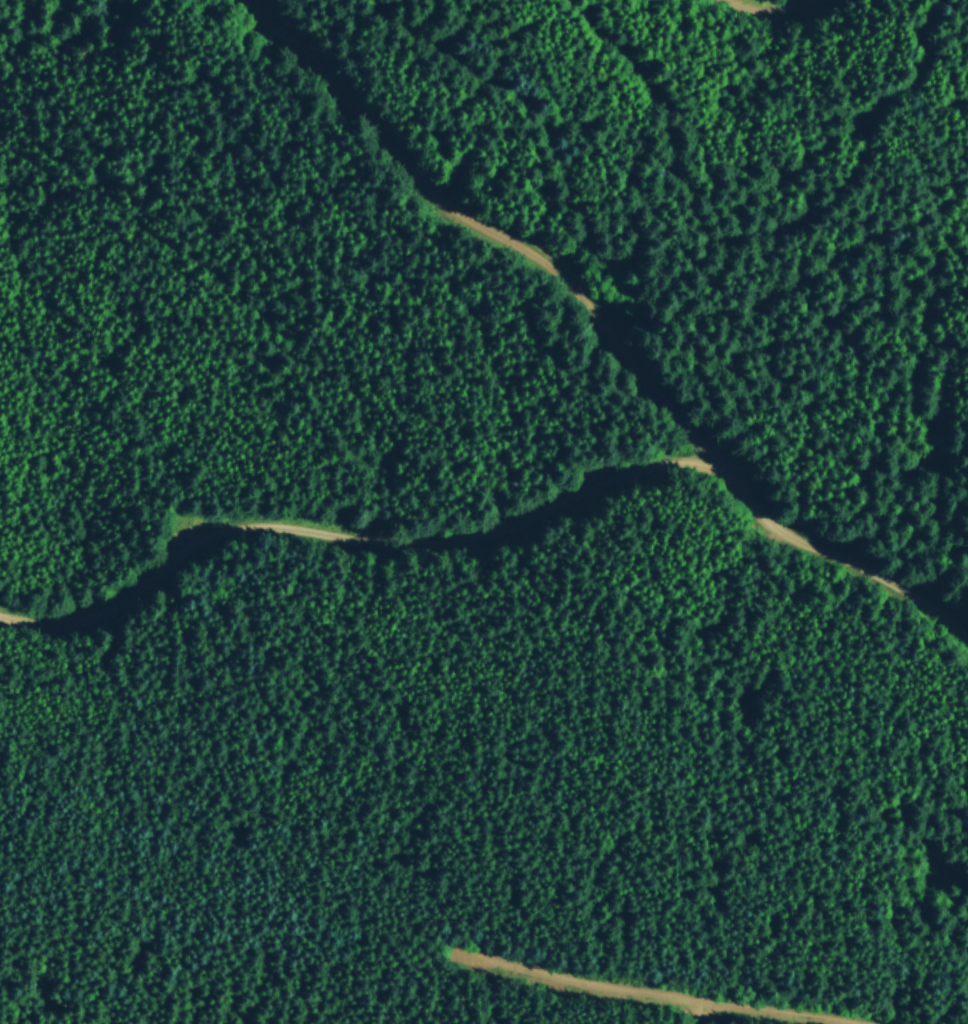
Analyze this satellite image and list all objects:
road: (784, 20)
road: (497, 229)
road: (498, 533)
road: (661, 990)

